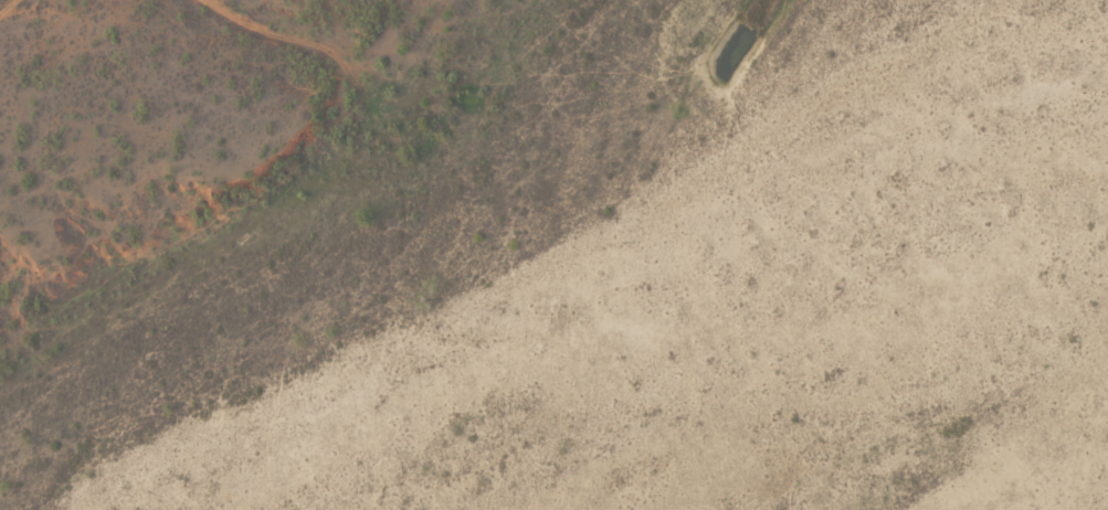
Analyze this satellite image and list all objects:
road: (283, 11)

